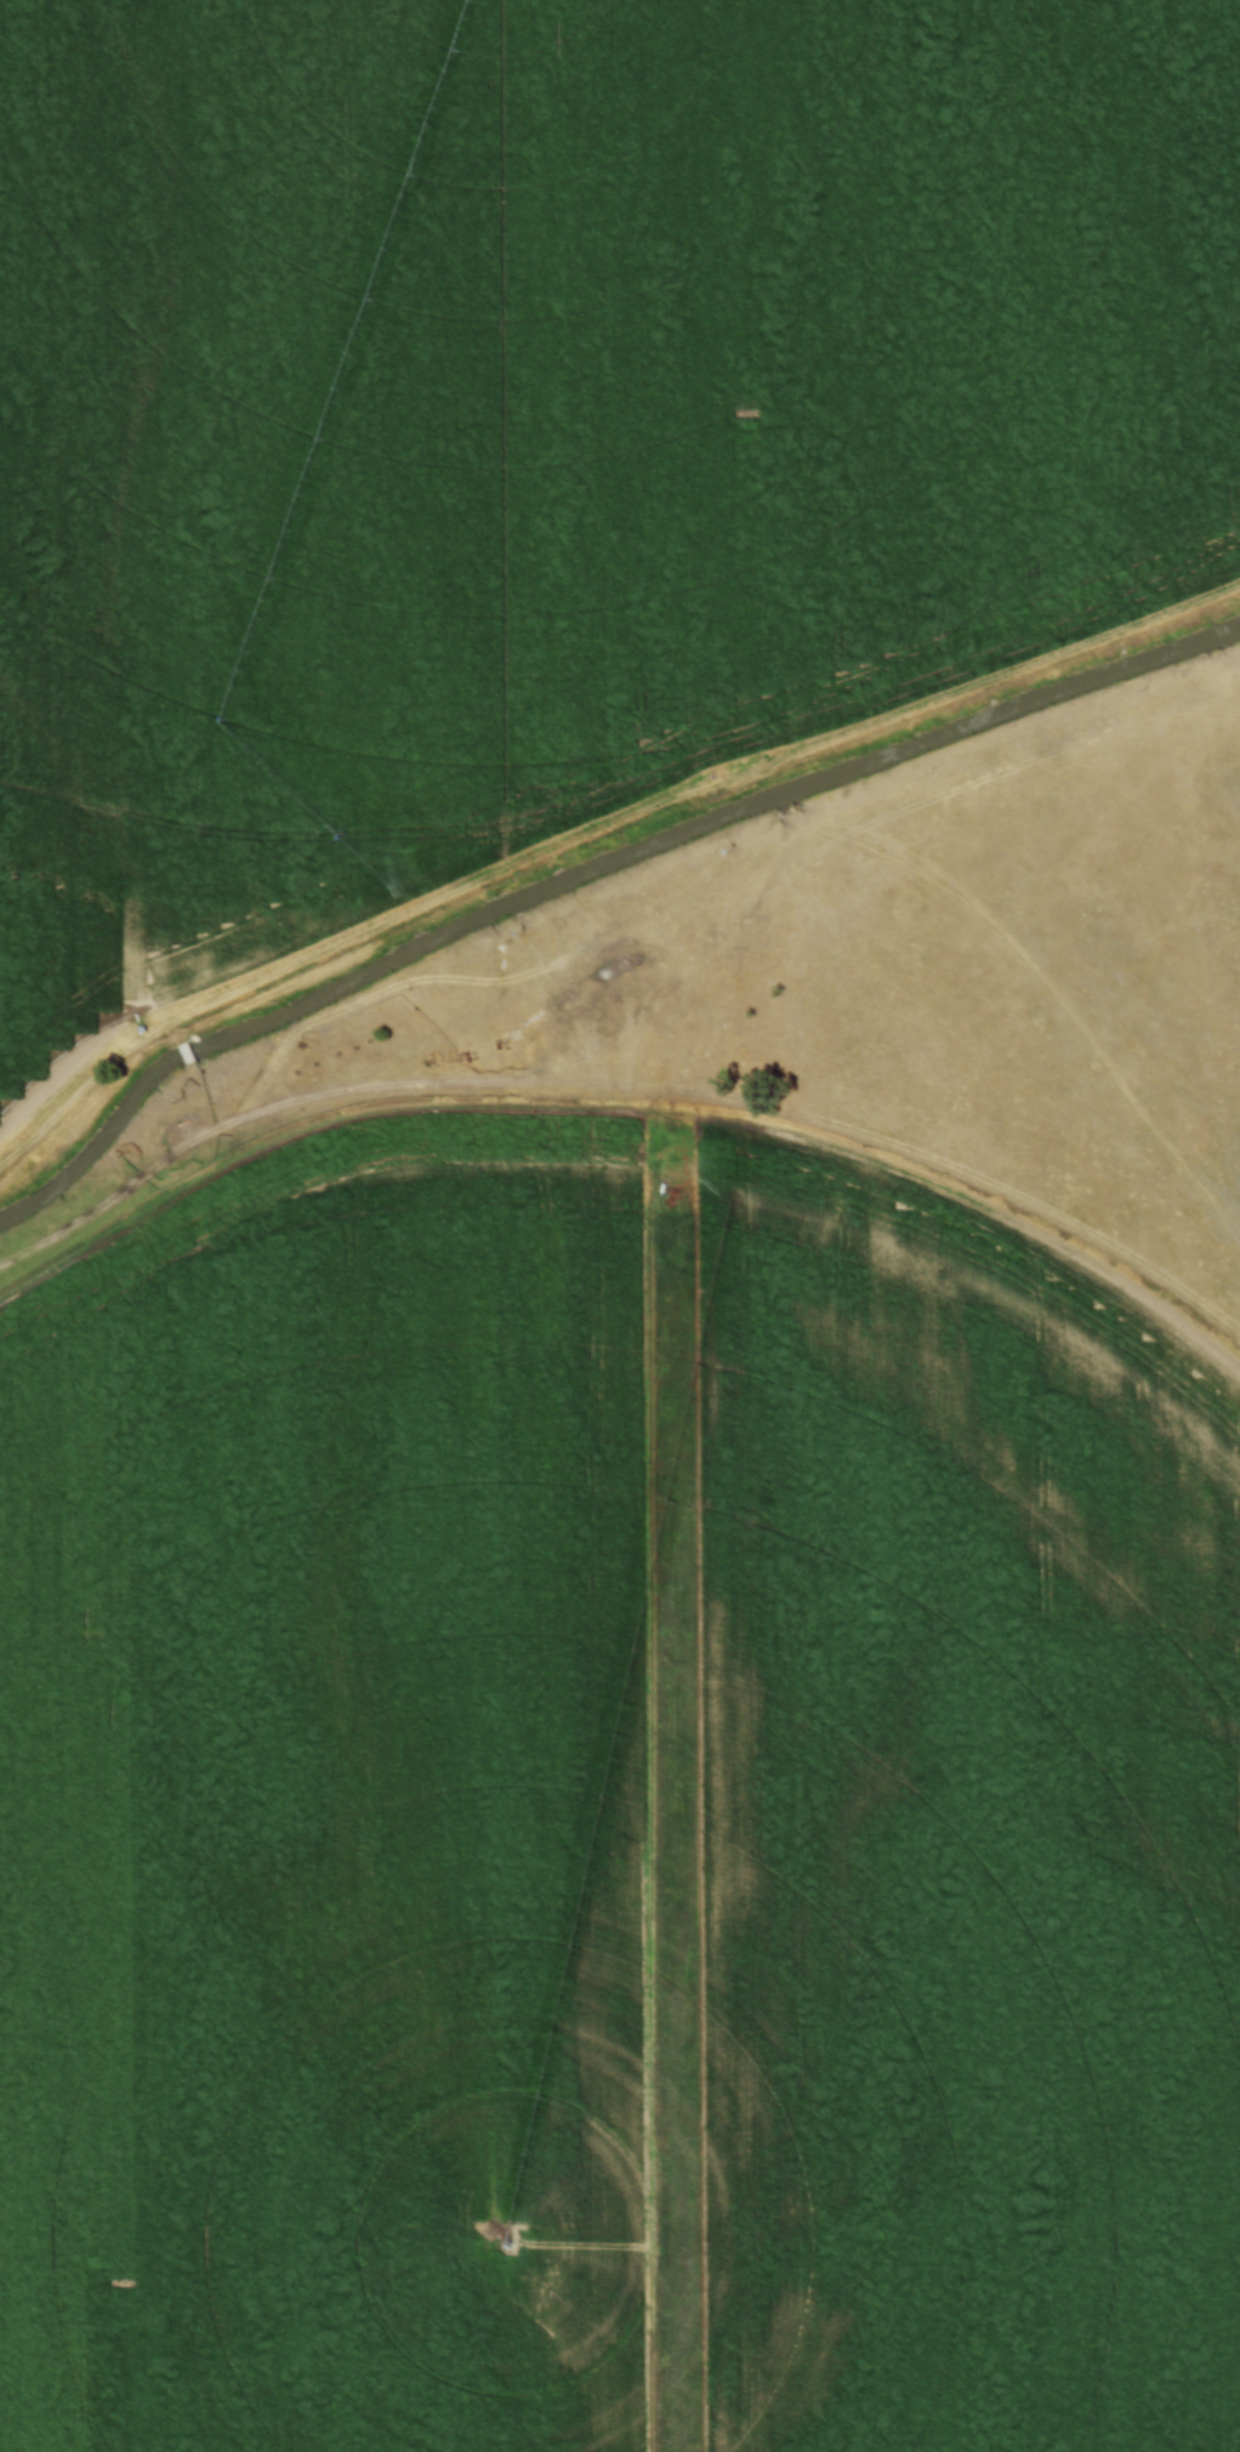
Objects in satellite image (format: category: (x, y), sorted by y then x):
crop: (552, 415)
road: (596, 830)
crop: (329, 1812)
crop: (965, 1837)

